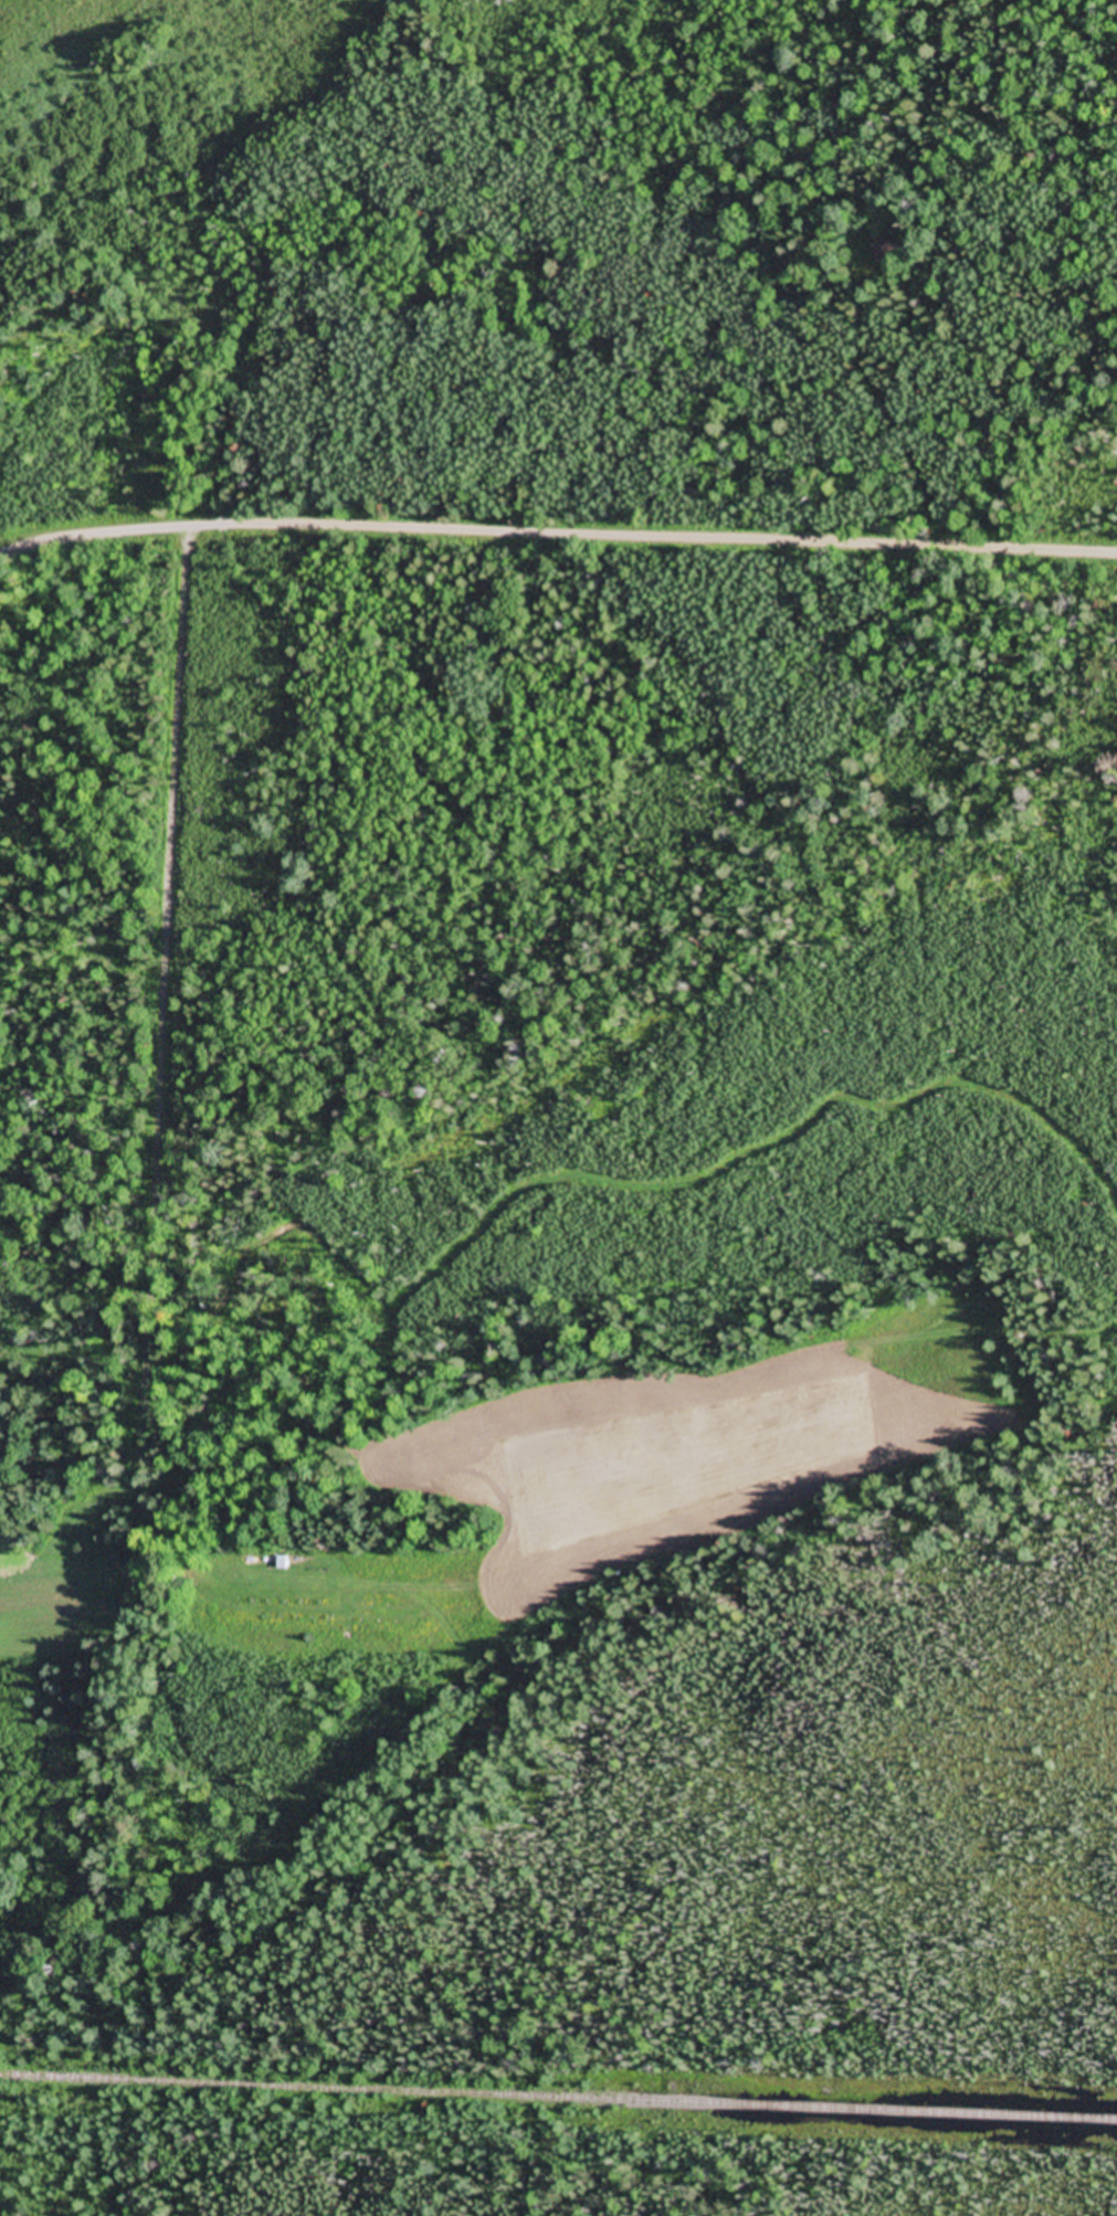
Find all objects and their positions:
building: (886, 249)
road: (557, 534)
road: (119, 1086)
railway: (558, 2099)

